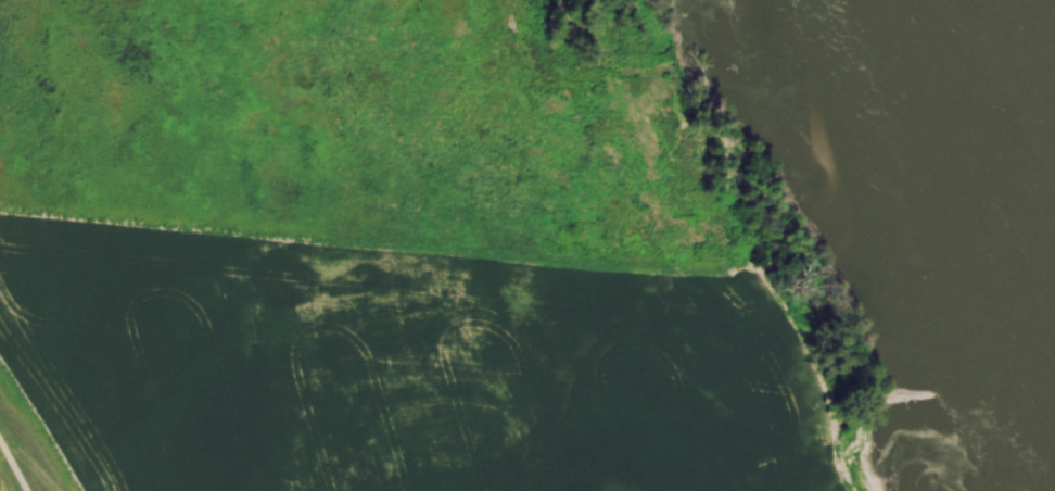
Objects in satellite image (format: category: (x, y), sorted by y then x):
road: (555, 40)
river: (1018, 72)
park: (384, 134)
road: (14, 465)

